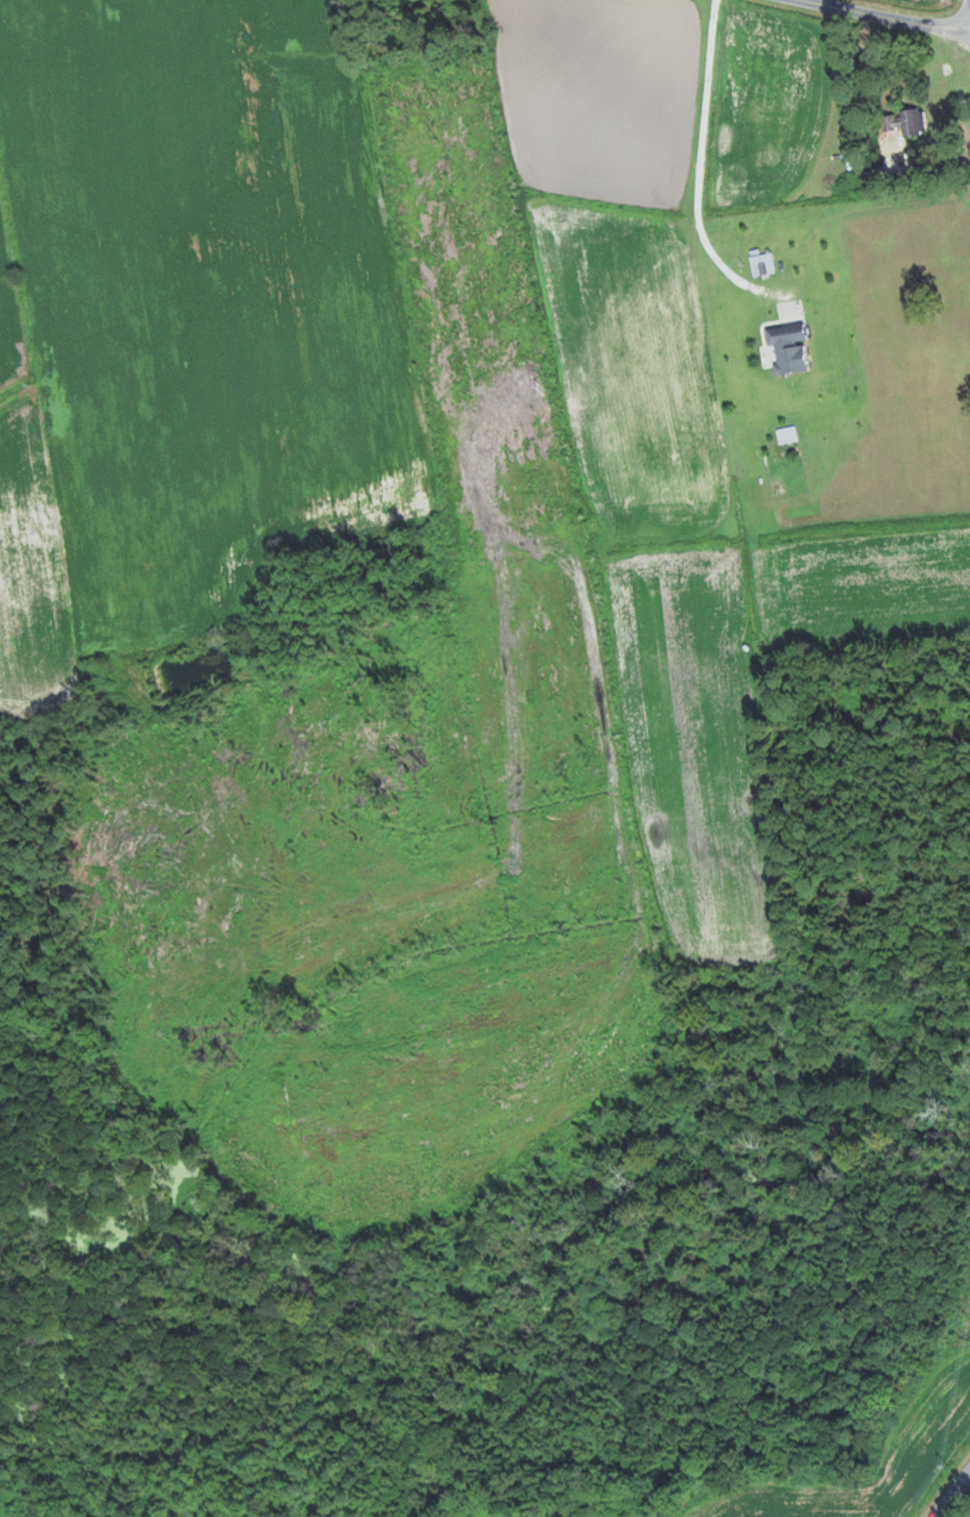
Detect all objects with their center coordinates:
road: (888, 16)
building: (937, 70)
building: (905, 121)
road: (952, 1494)

